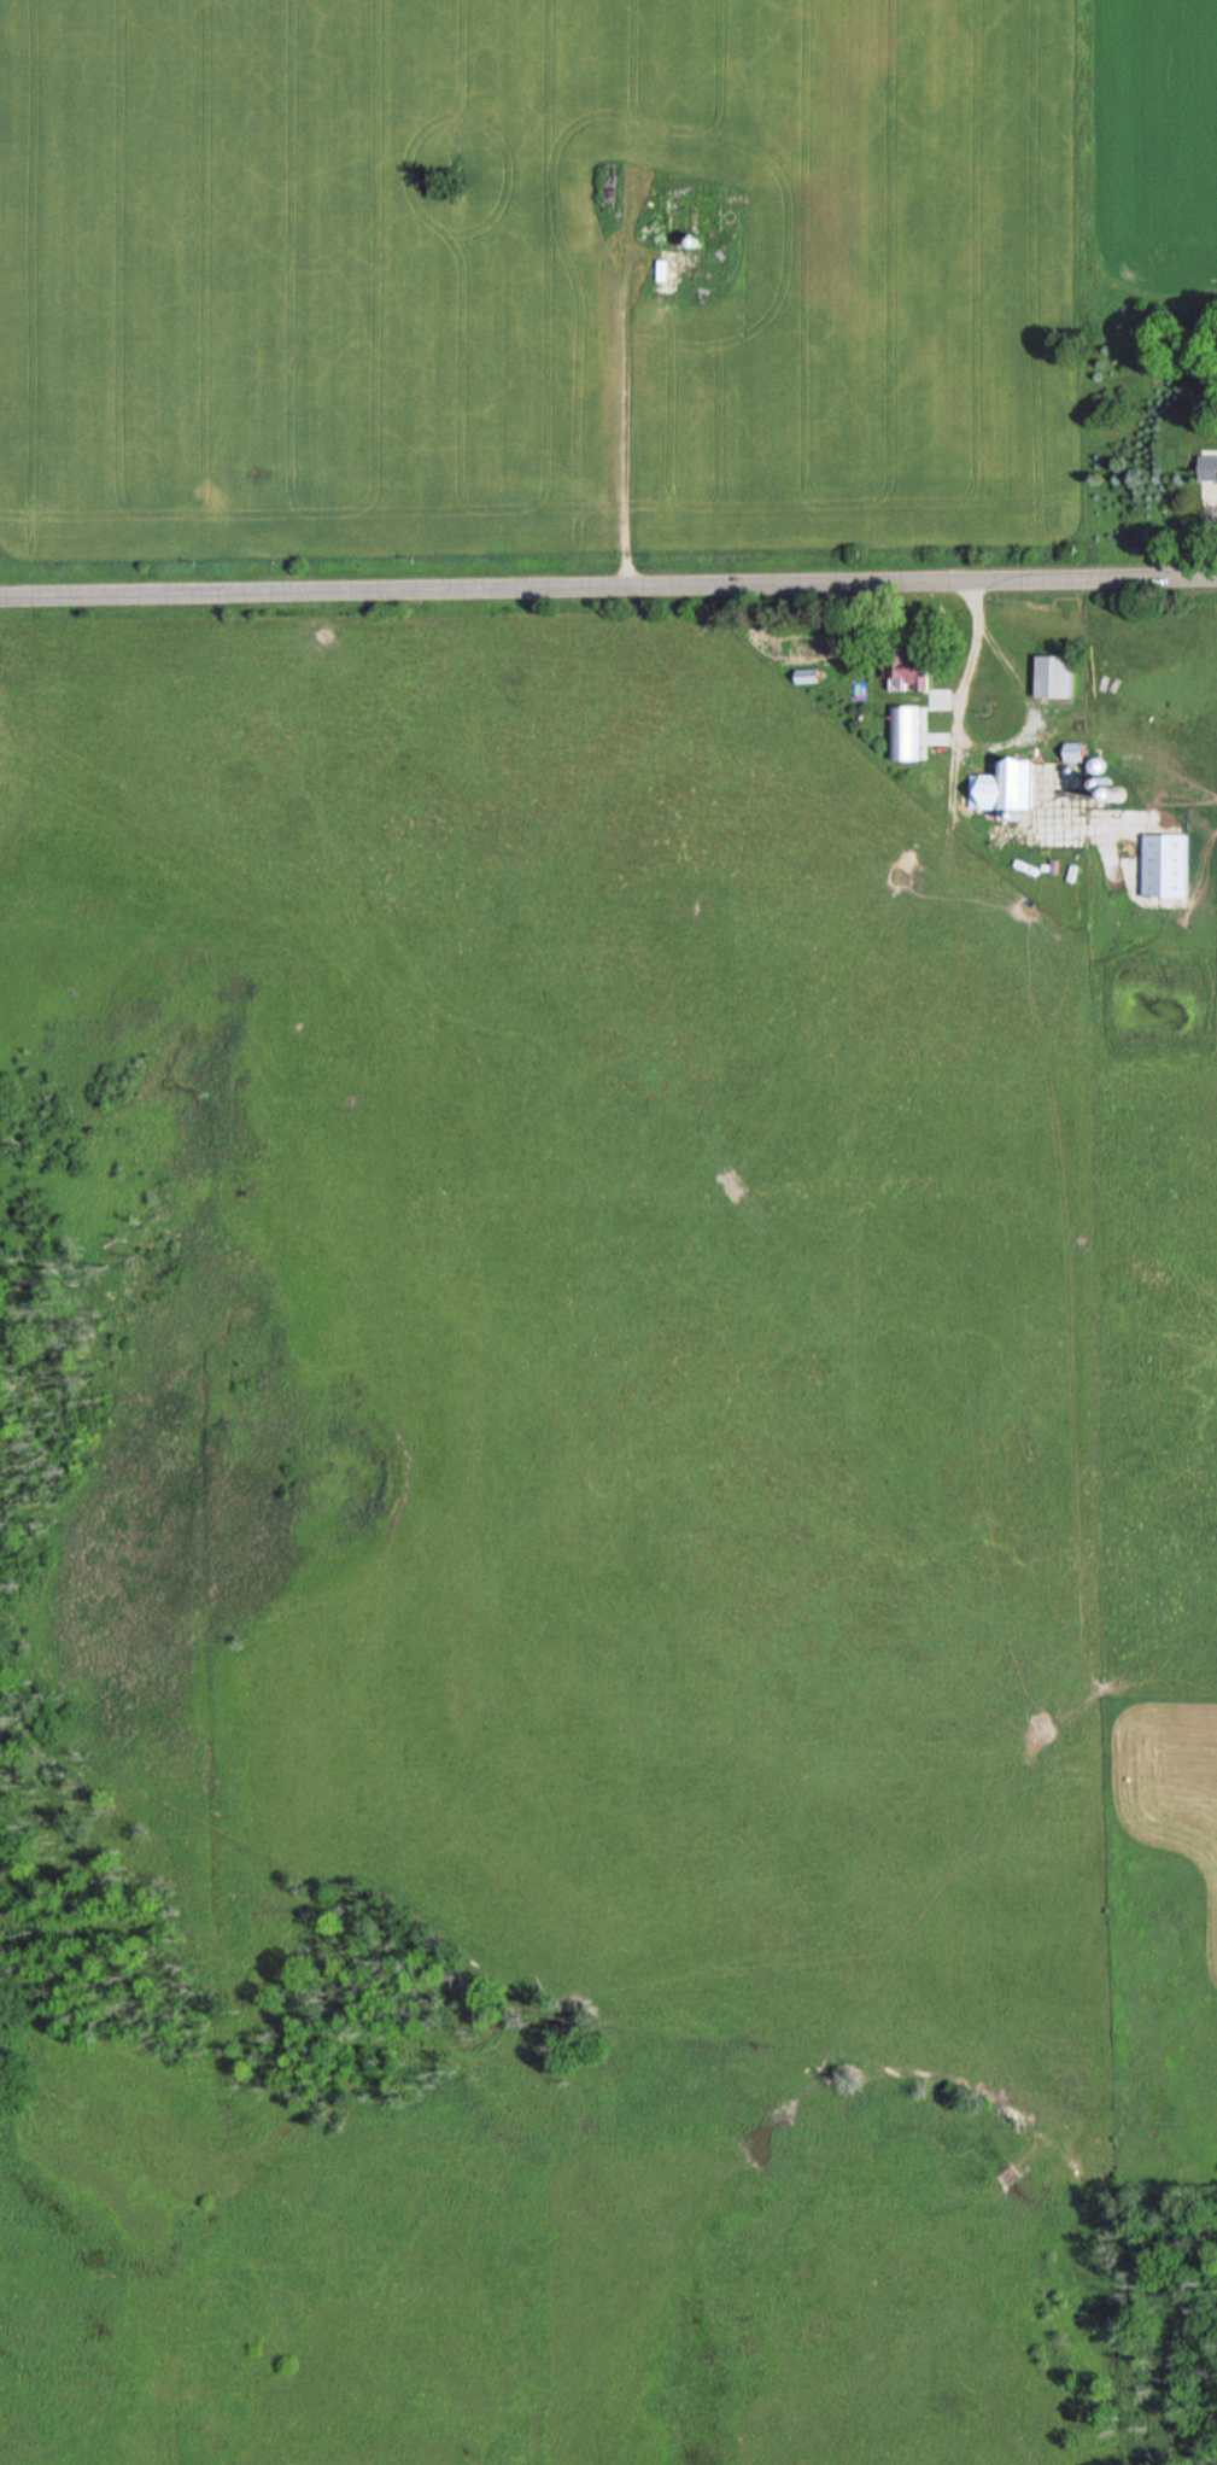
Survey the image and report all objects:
building: (1206, 475)
road: (608, 591)
building: (905, 672)
building: (1047, 676)
building: (903, 732)
building: (1162, 865)

